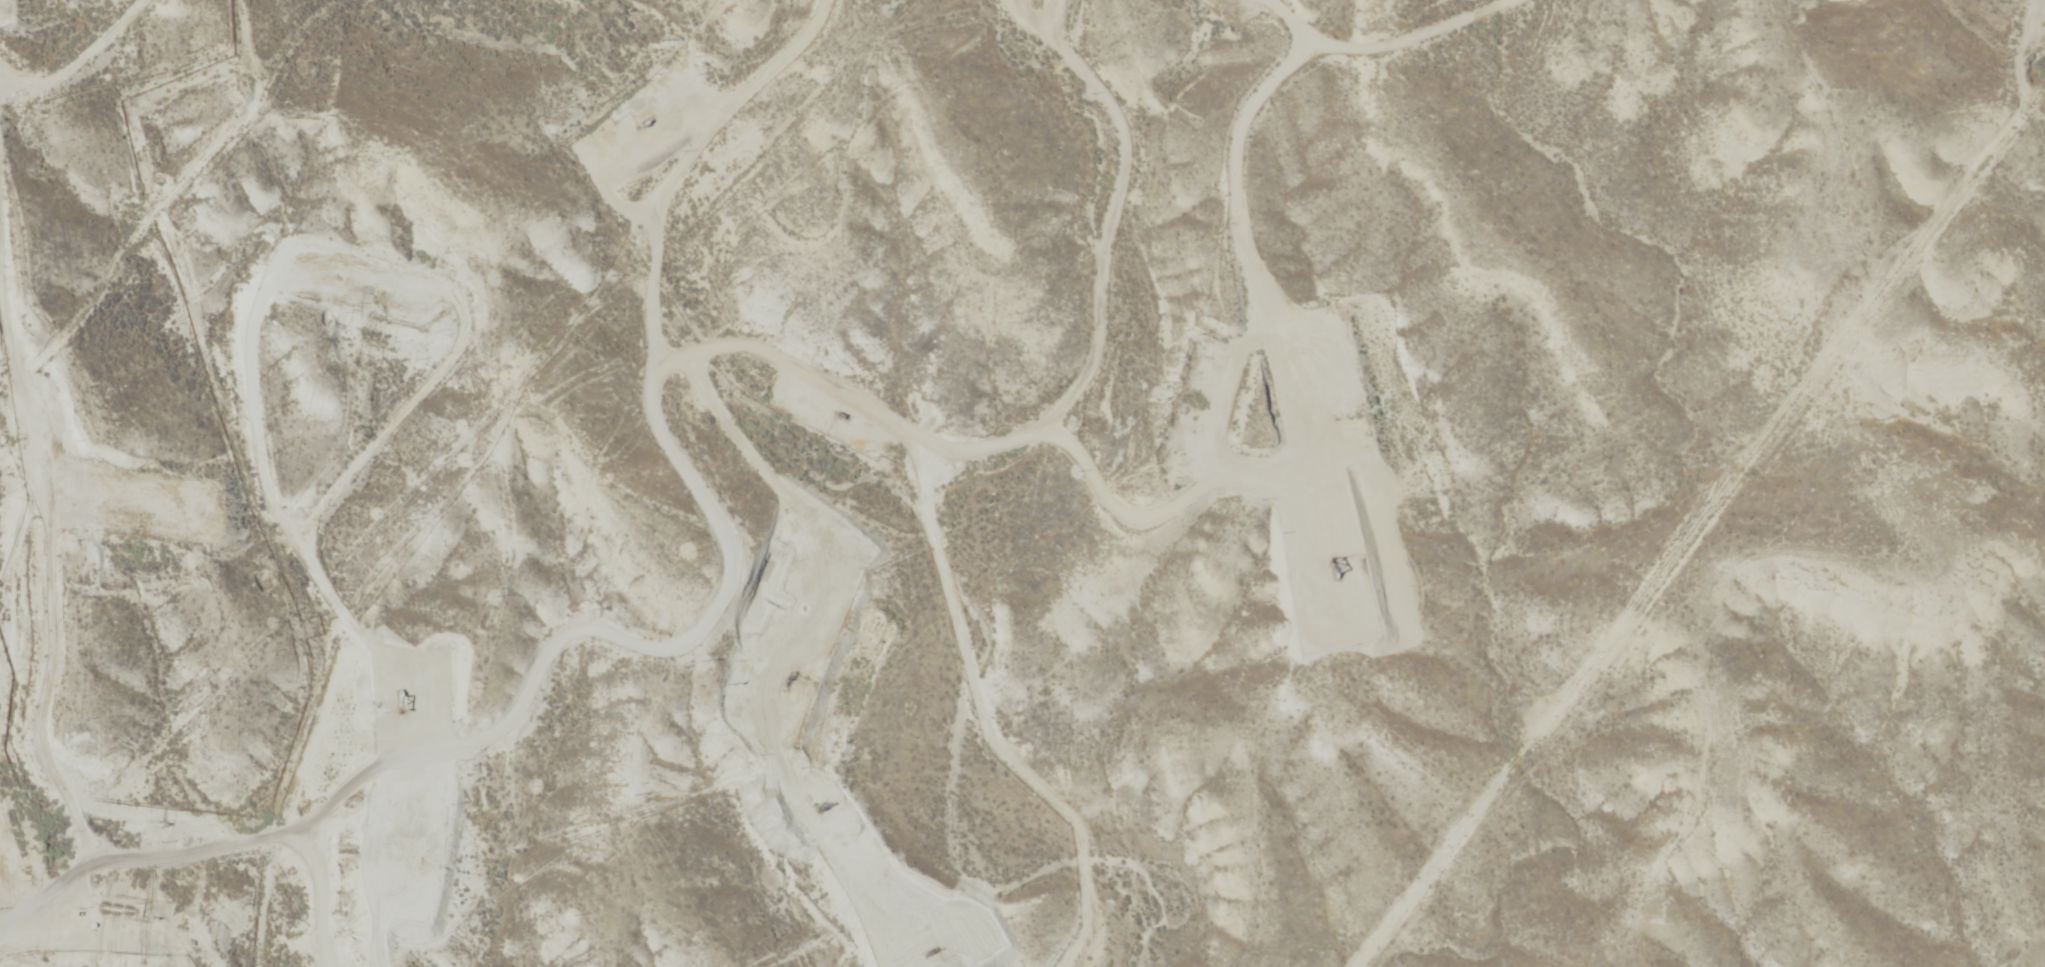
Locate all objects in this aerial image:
road: (472, 3)
road: (1061, 78)
road: (174, 81)
road: (1405, 188)
road: (1141, 320)
petroleum well: (404, 696)
road: (450, 731)
road: (339, 897)
road: (143, 898)

